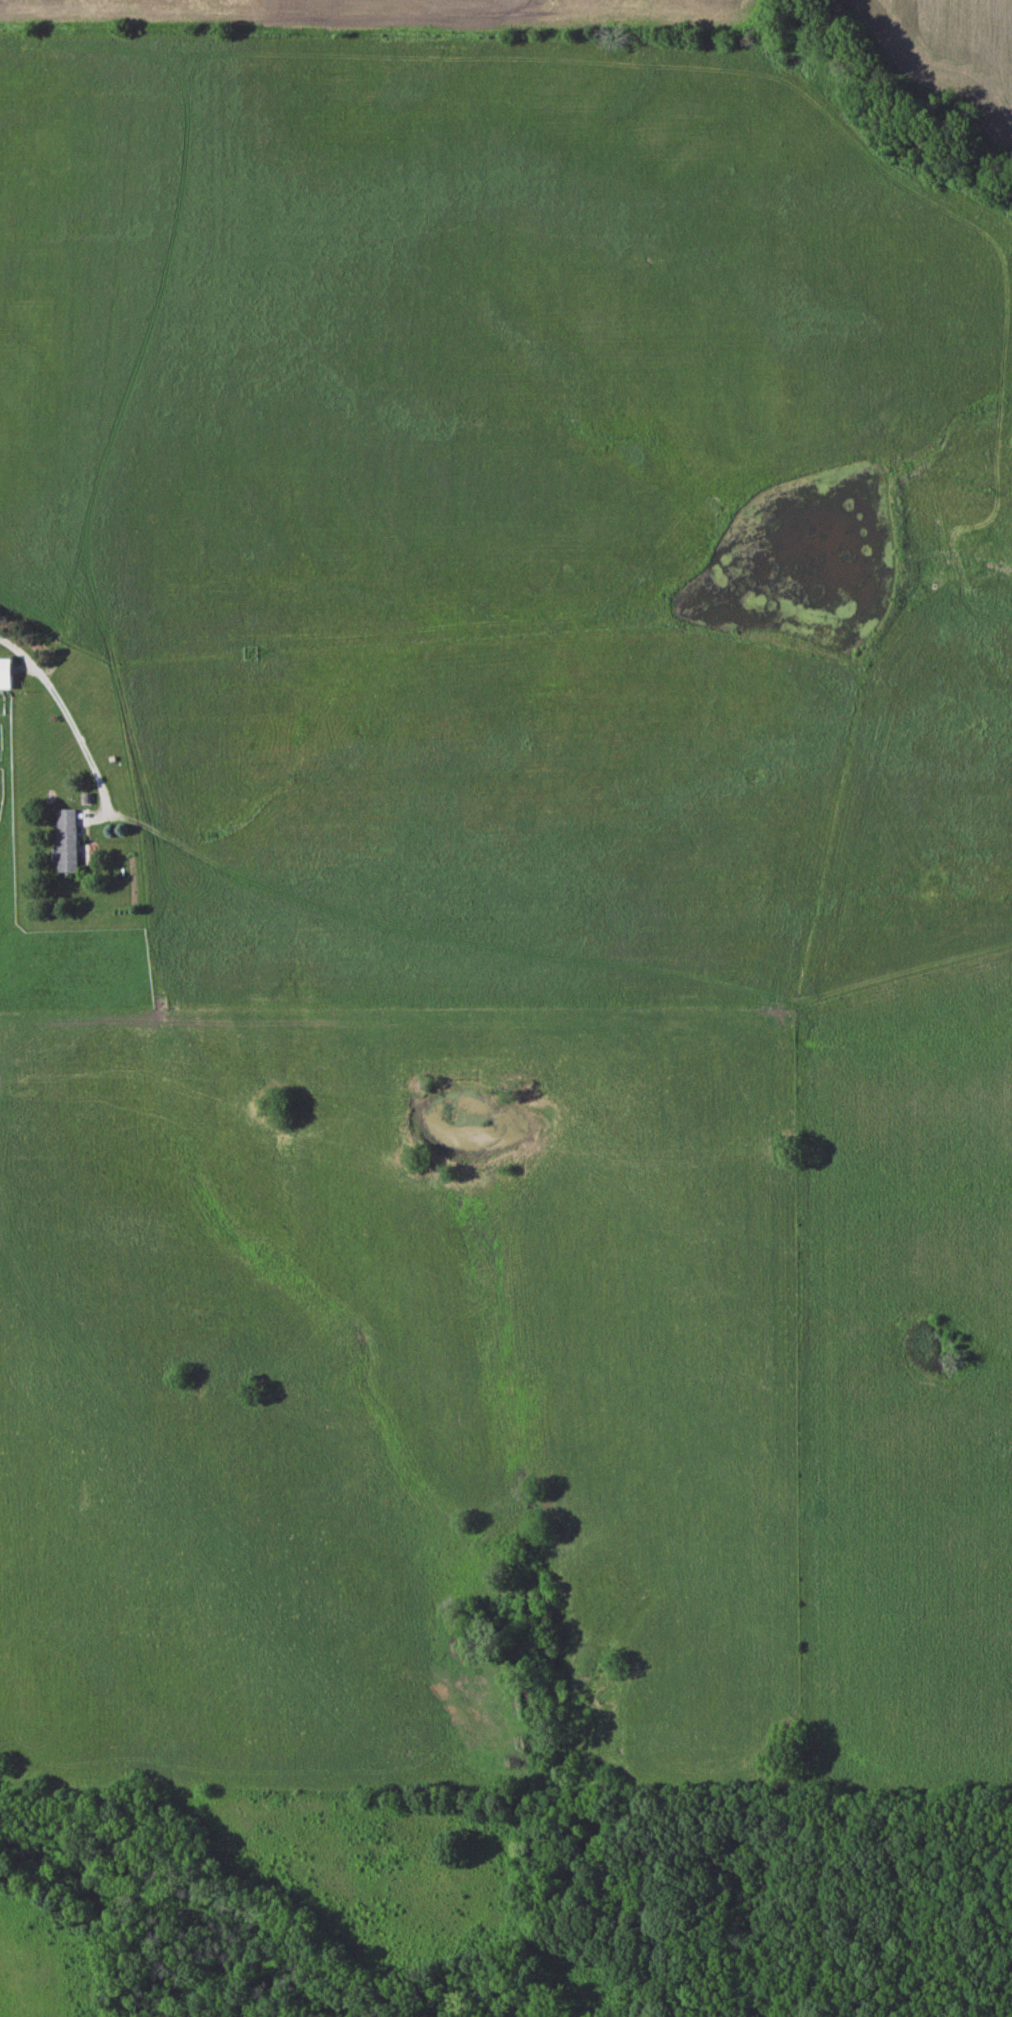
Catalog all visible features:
building: (5, 673)
building: (65, 841)

